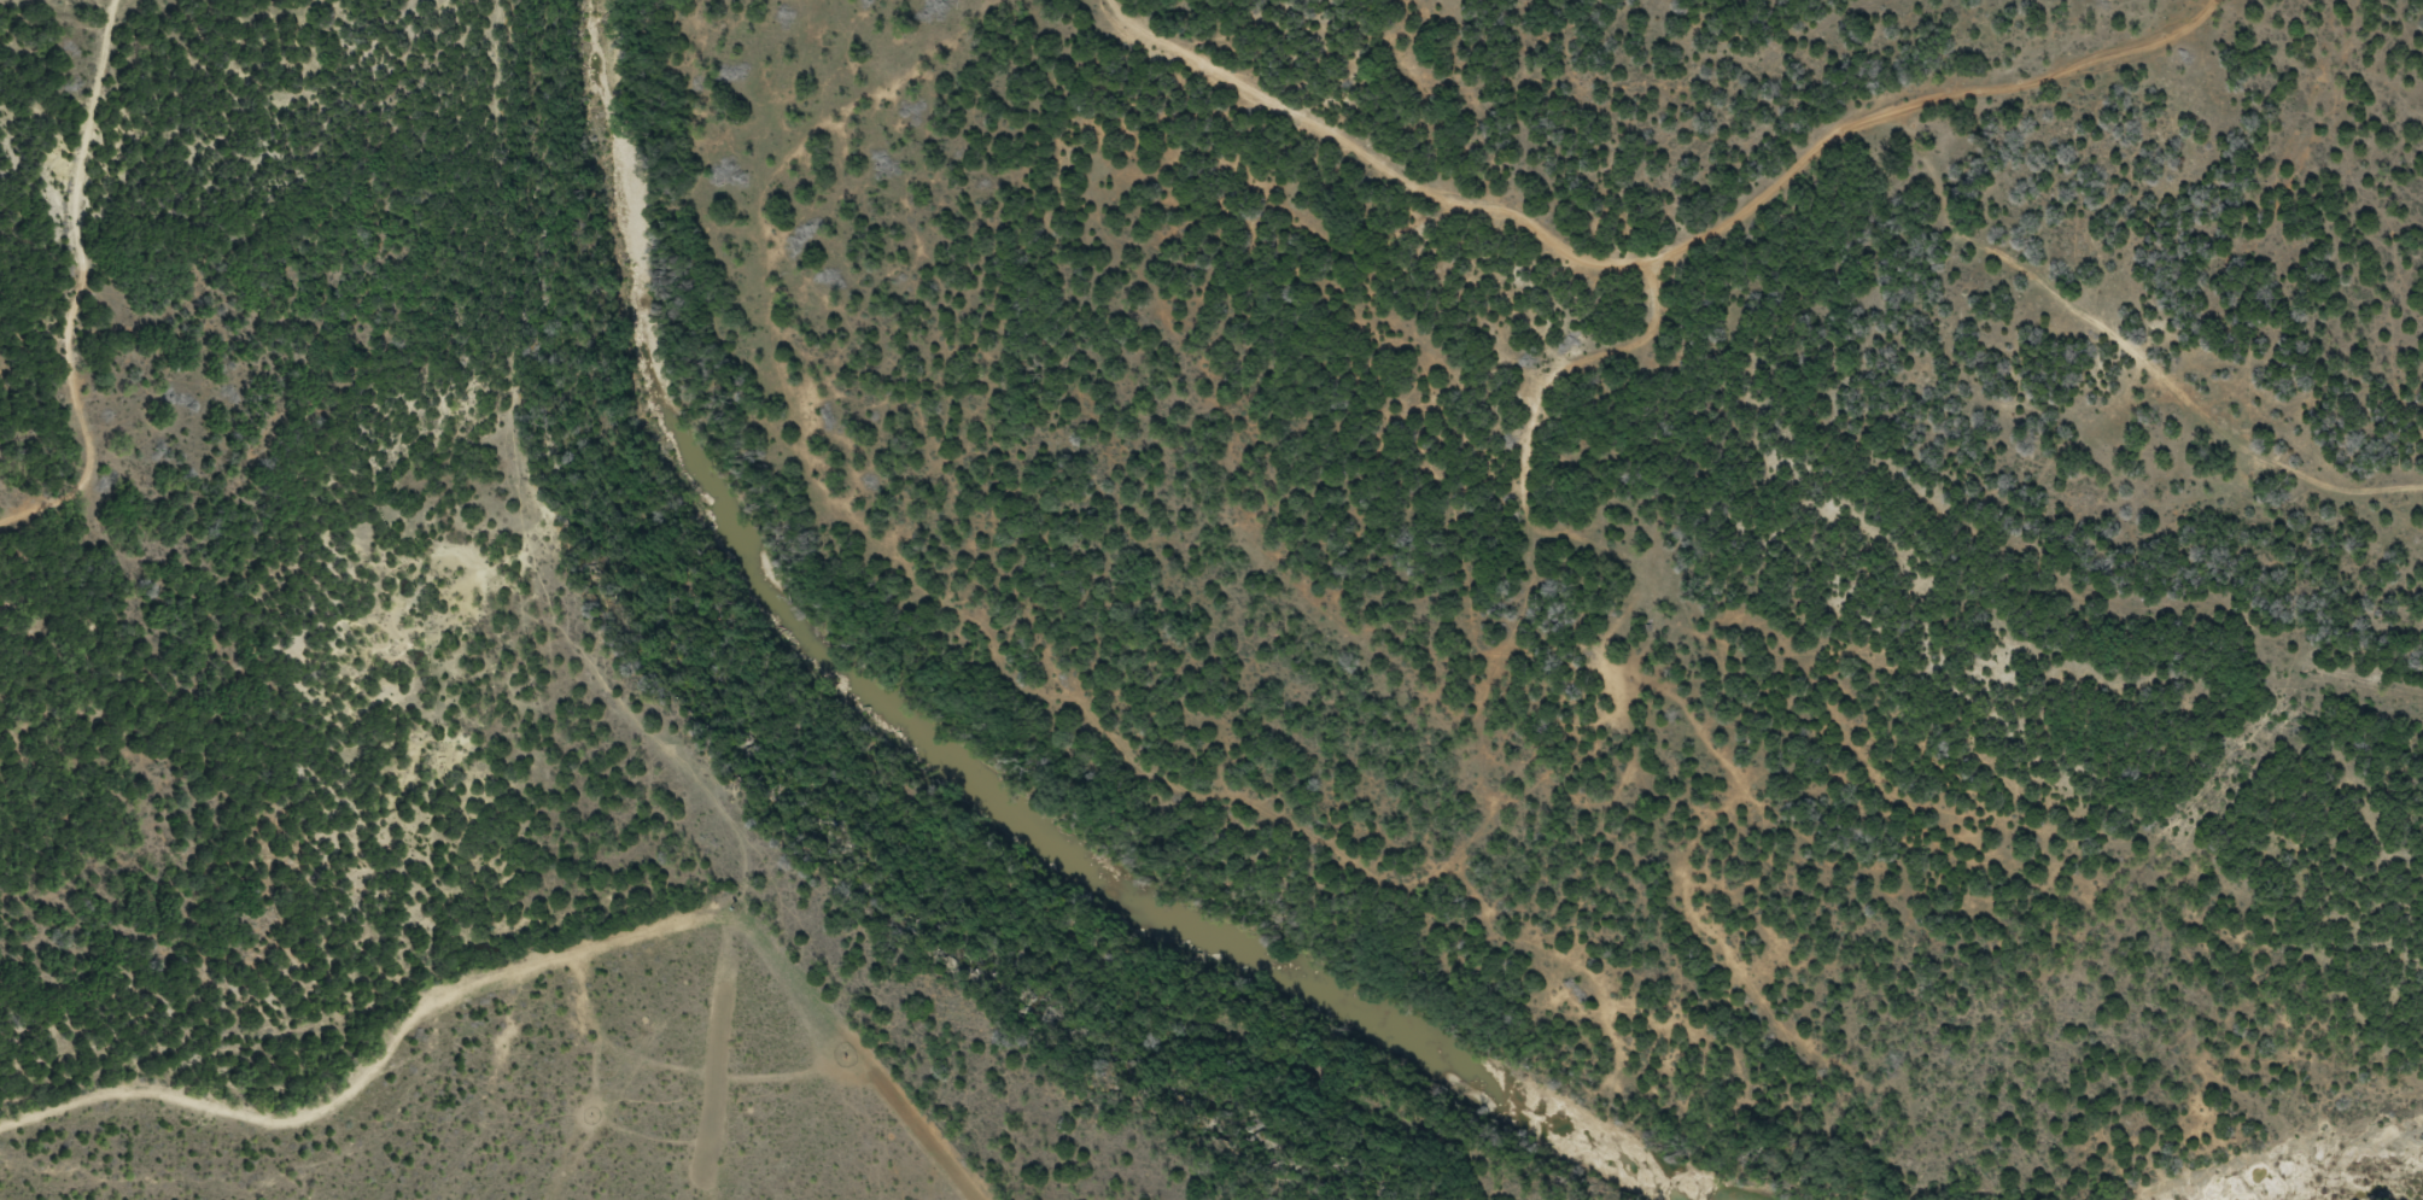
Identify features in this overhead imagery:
road: (1594, 238)

